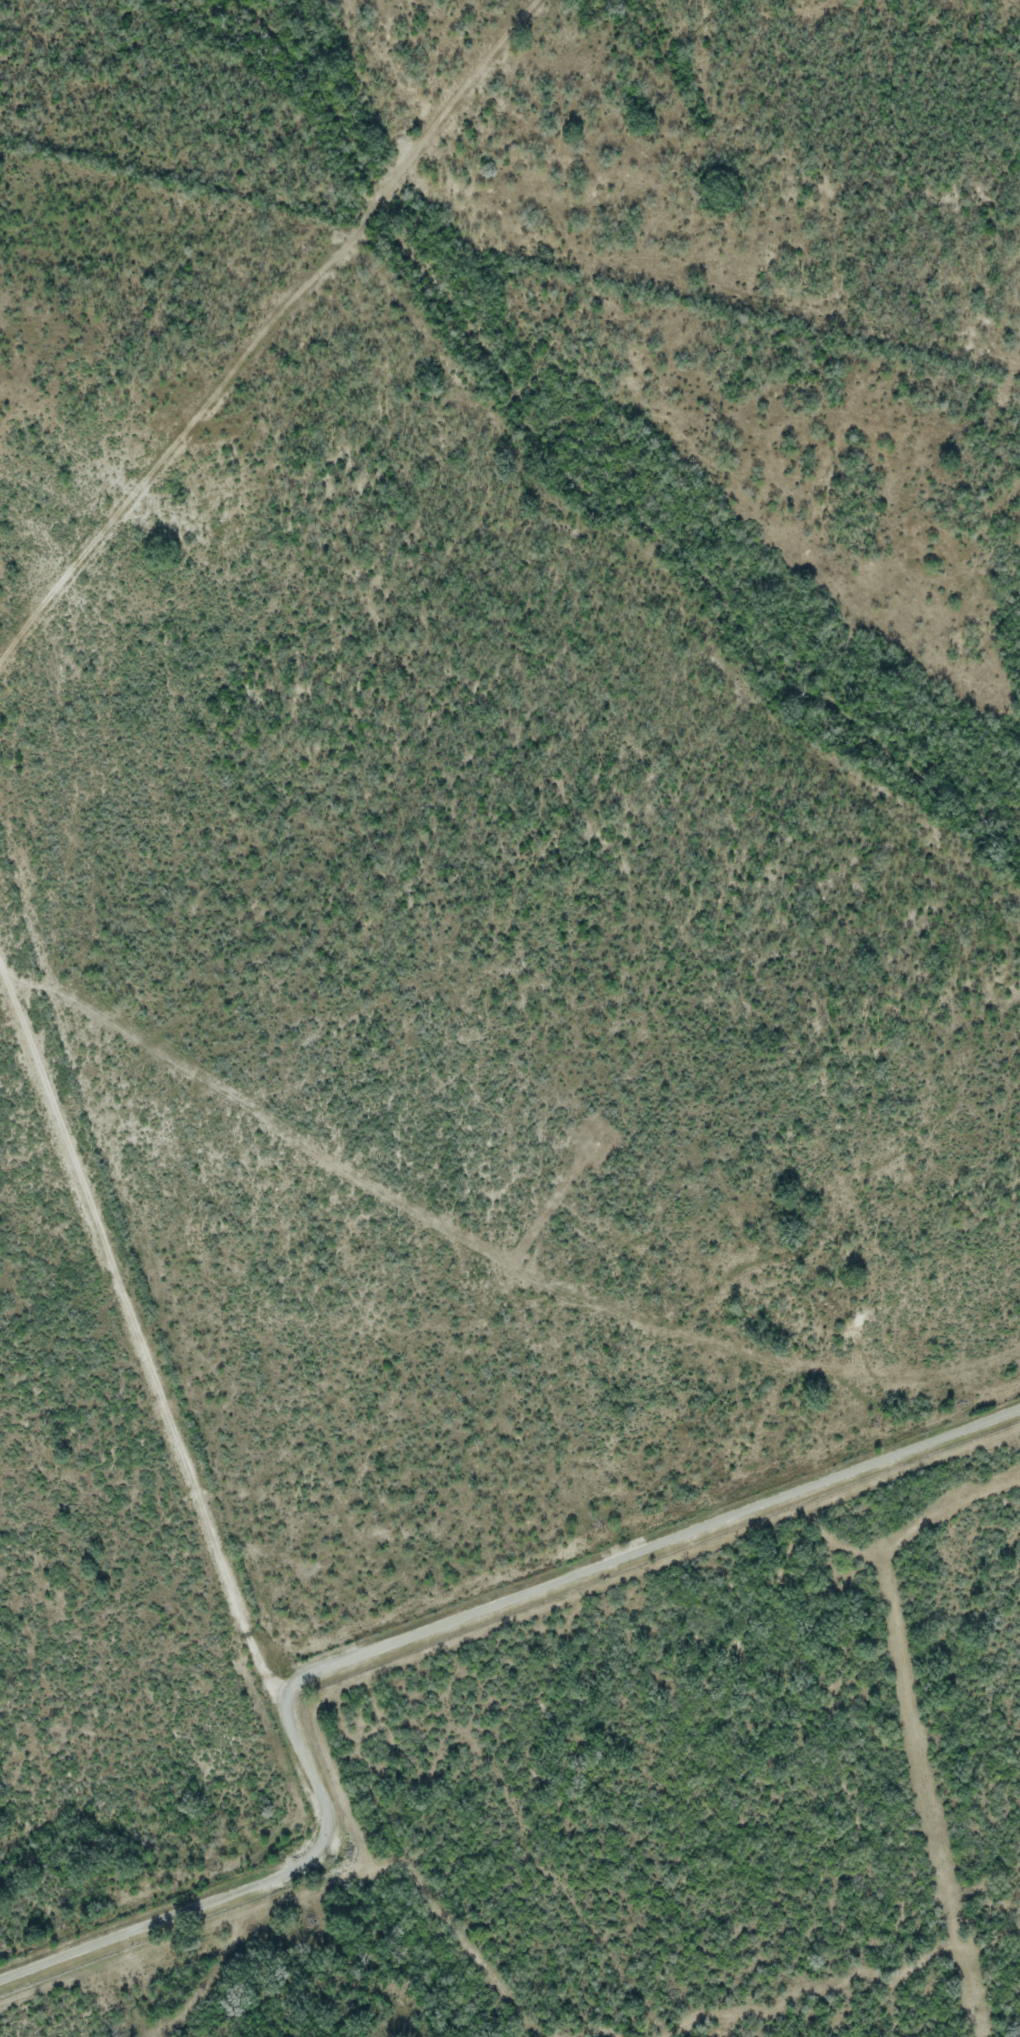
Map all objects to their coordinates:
road: (410, 1639)

